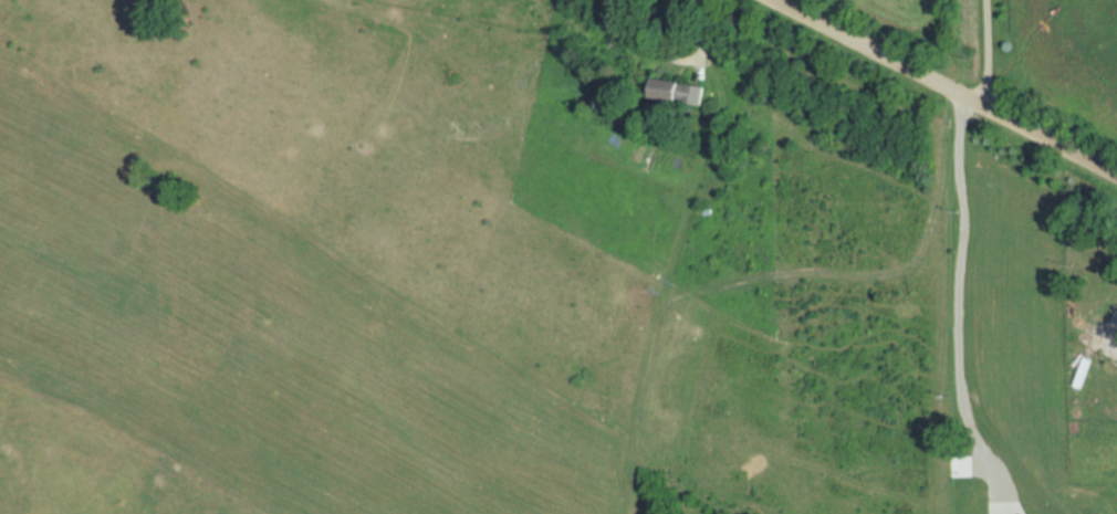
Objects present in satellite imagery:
road: (988, 53)
road: (943, 87)
building: (676, 92)
road: (965, 305)
road: (1095, 325)

